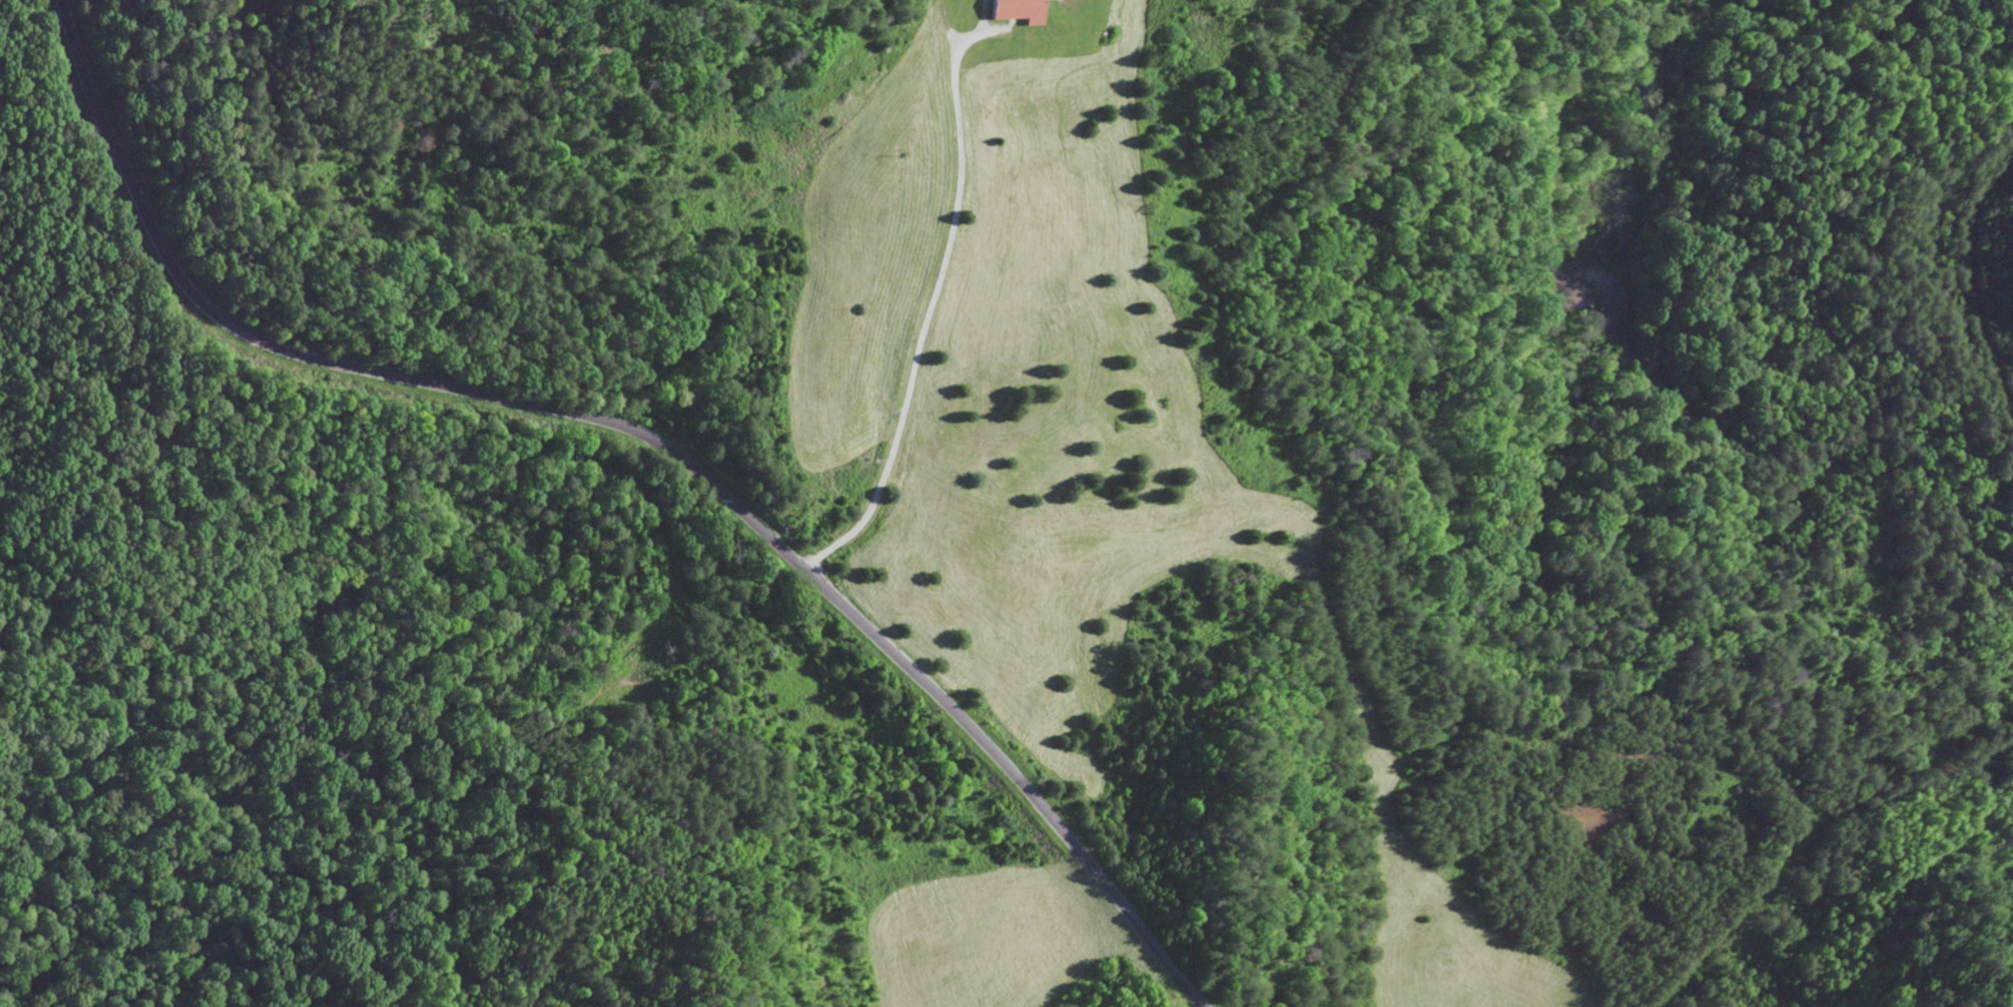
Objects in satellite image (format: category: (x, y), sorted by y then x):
building: (1017, 10)
road: (812, 260)
road: (952, 315)
road: (386, 373)
road: (1033, 804)

